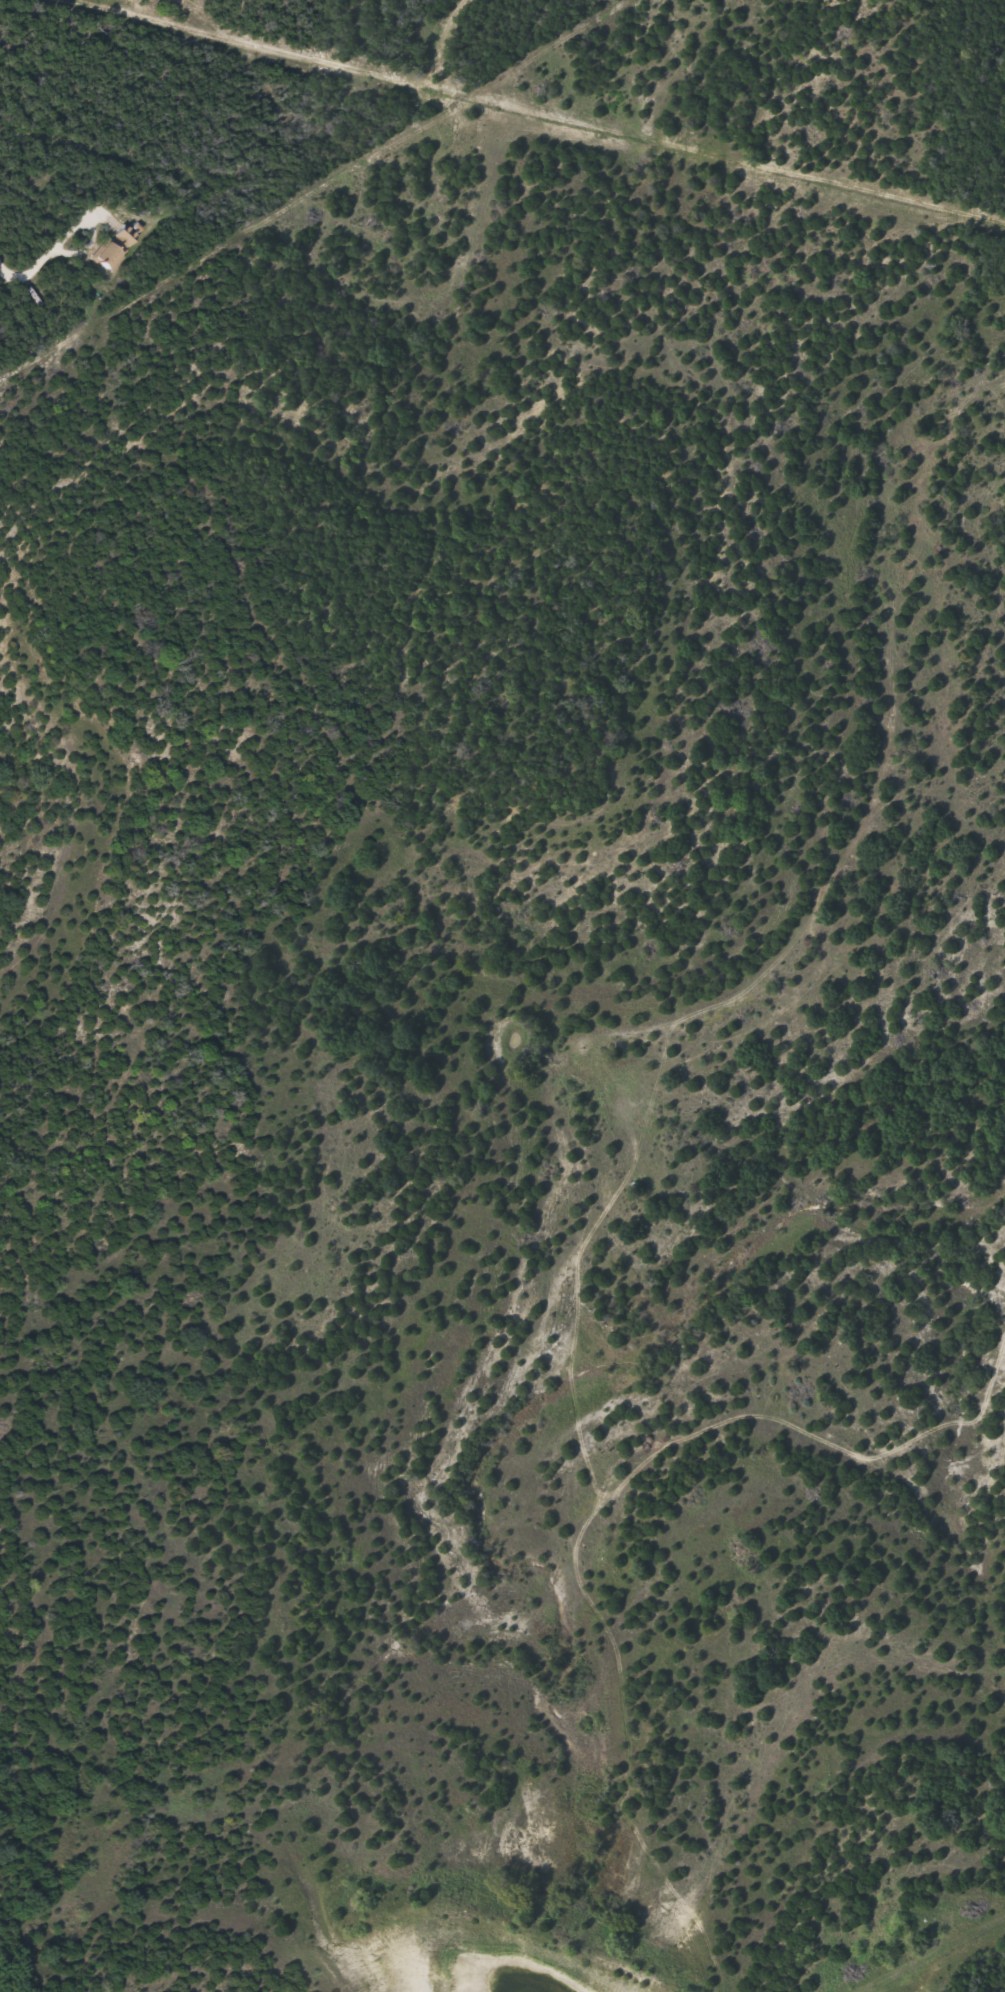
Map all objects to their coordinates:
building: (119, 246)
road: (42, 253)

